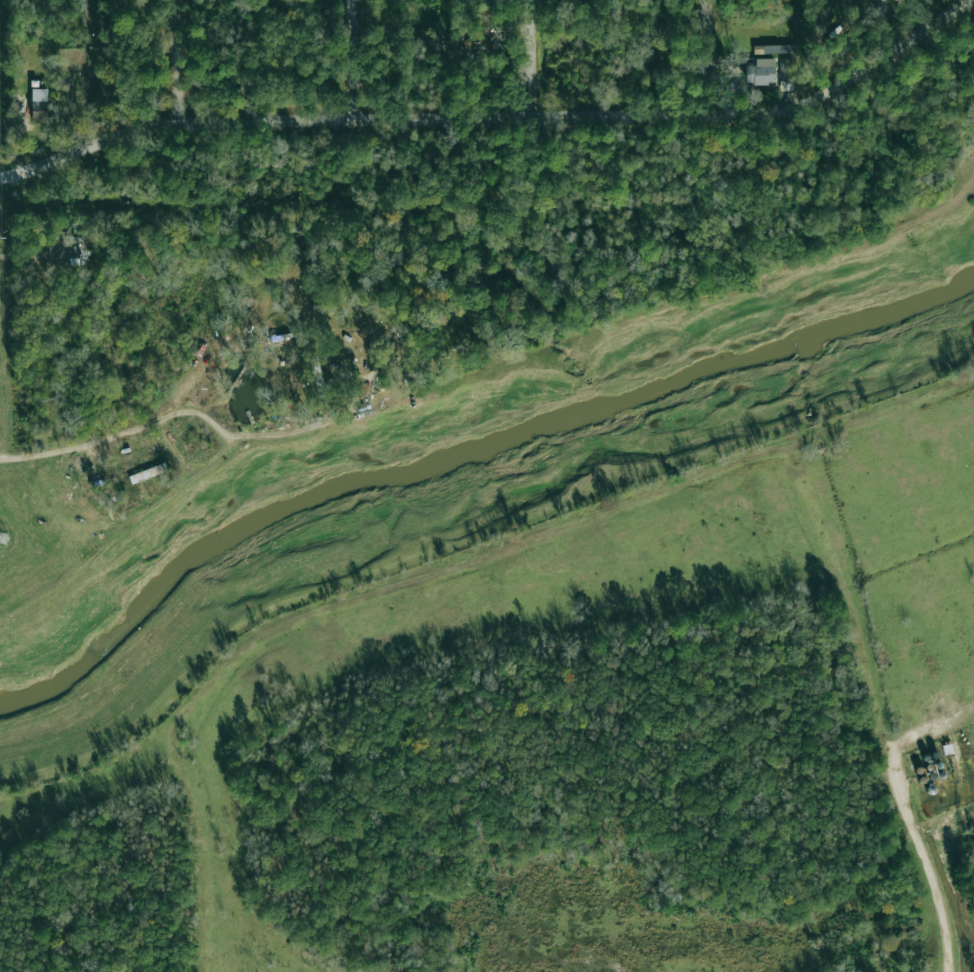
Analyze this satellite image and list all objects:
road: (882, 30)
road: (531, 57)
road: (705, 57)
road: (353, 60)
road: (178, 61)
building: (760, 73)
building: (39, 105)
road: (496, 115)
river: (462, 458)
road: (611, 510)

